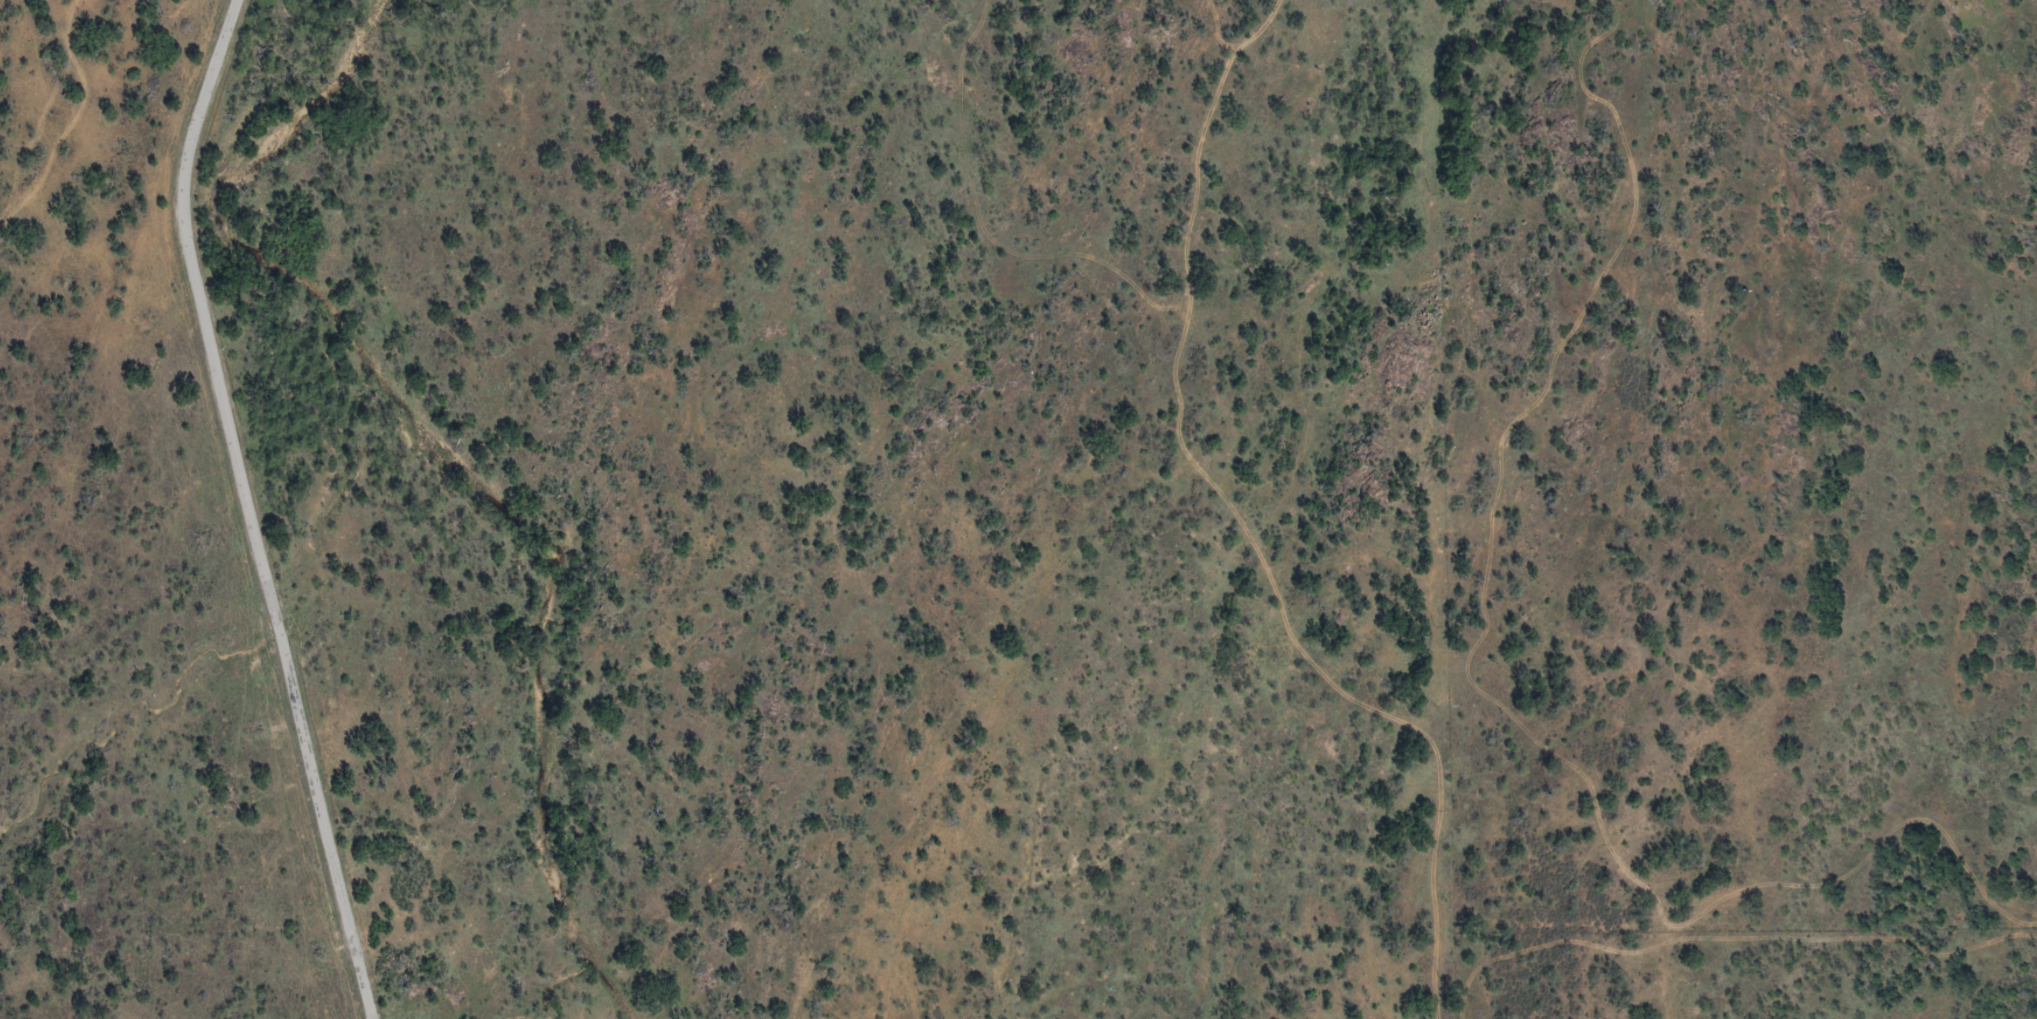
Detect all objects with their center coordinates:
road: (251, 508)

